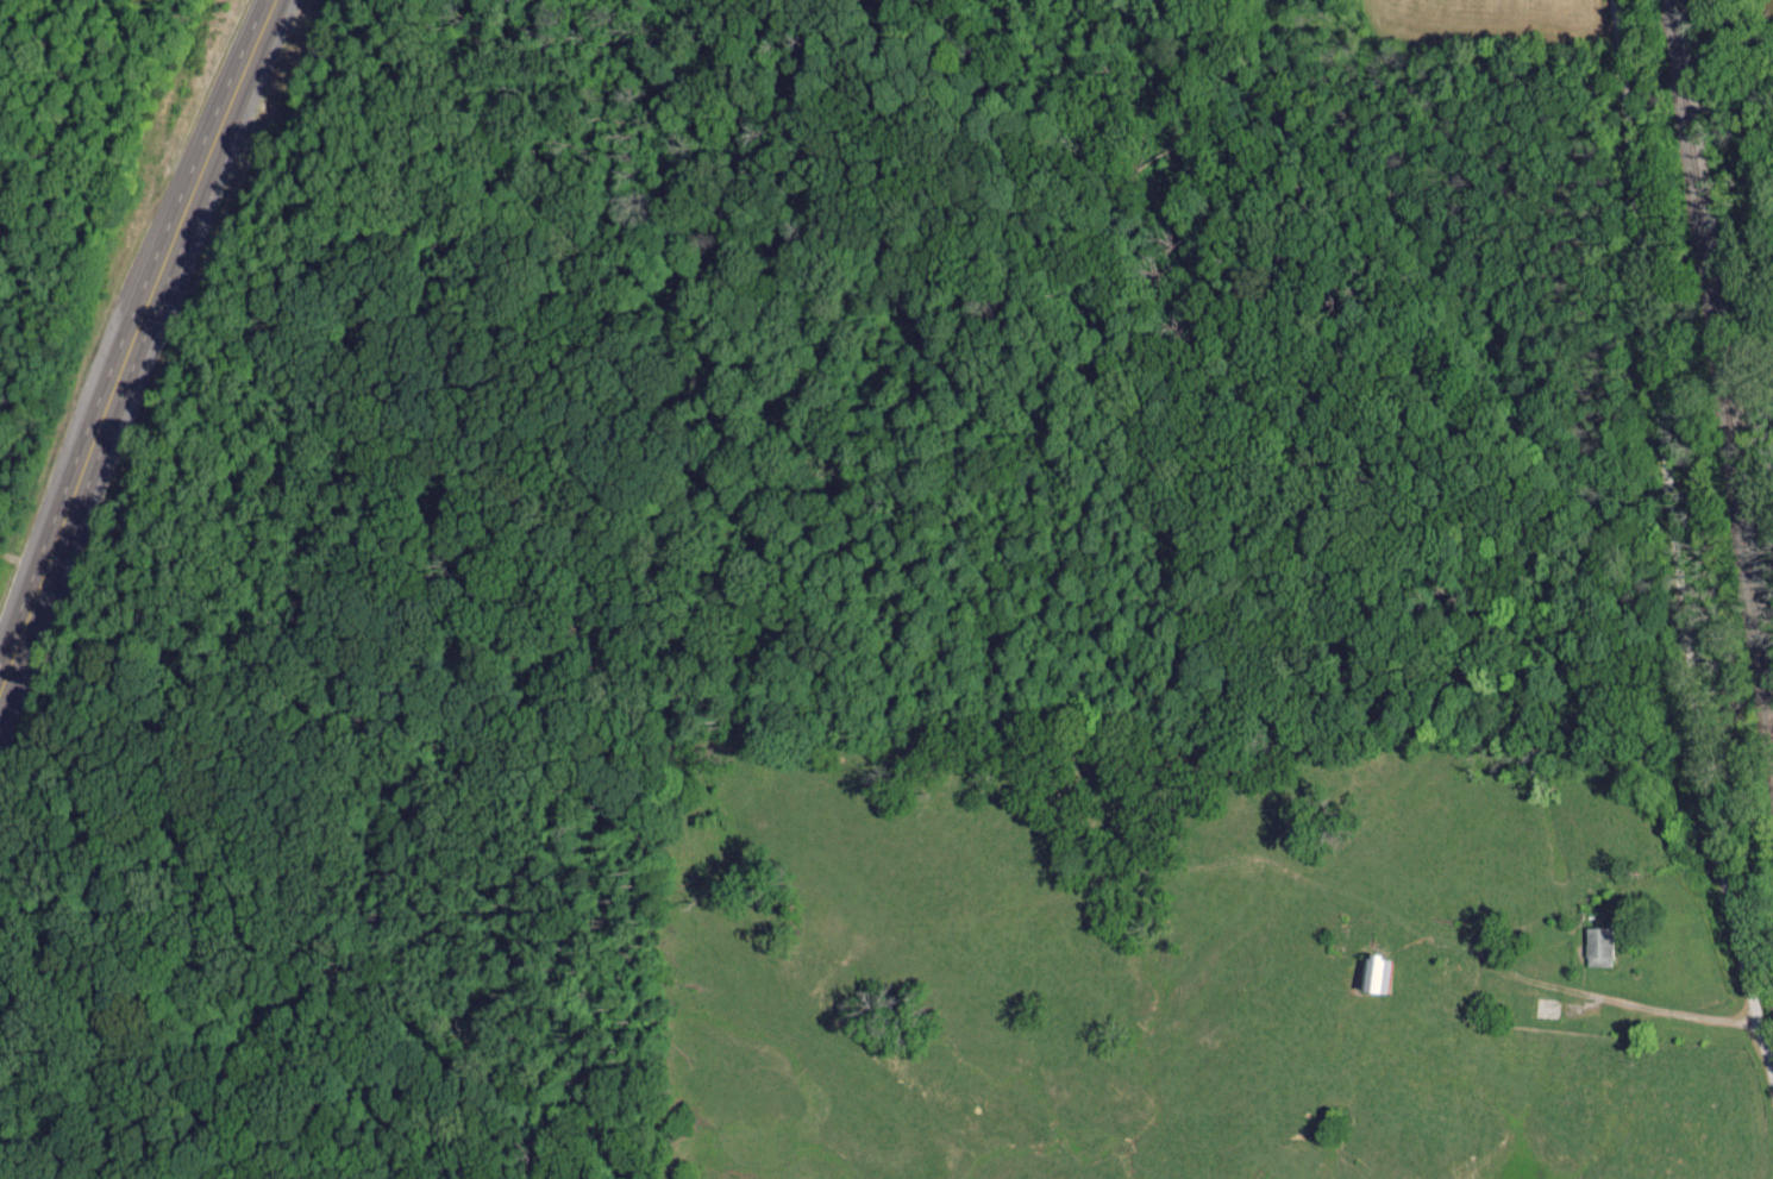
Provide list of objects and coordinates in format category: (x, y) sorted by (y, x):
road: (138, 332)
railway: (1719, 376)
road: (1683, 556)
building: (1597, 946)
building: (1372, 976)
road: (1644, 1005)
building: (1546, 1009)

